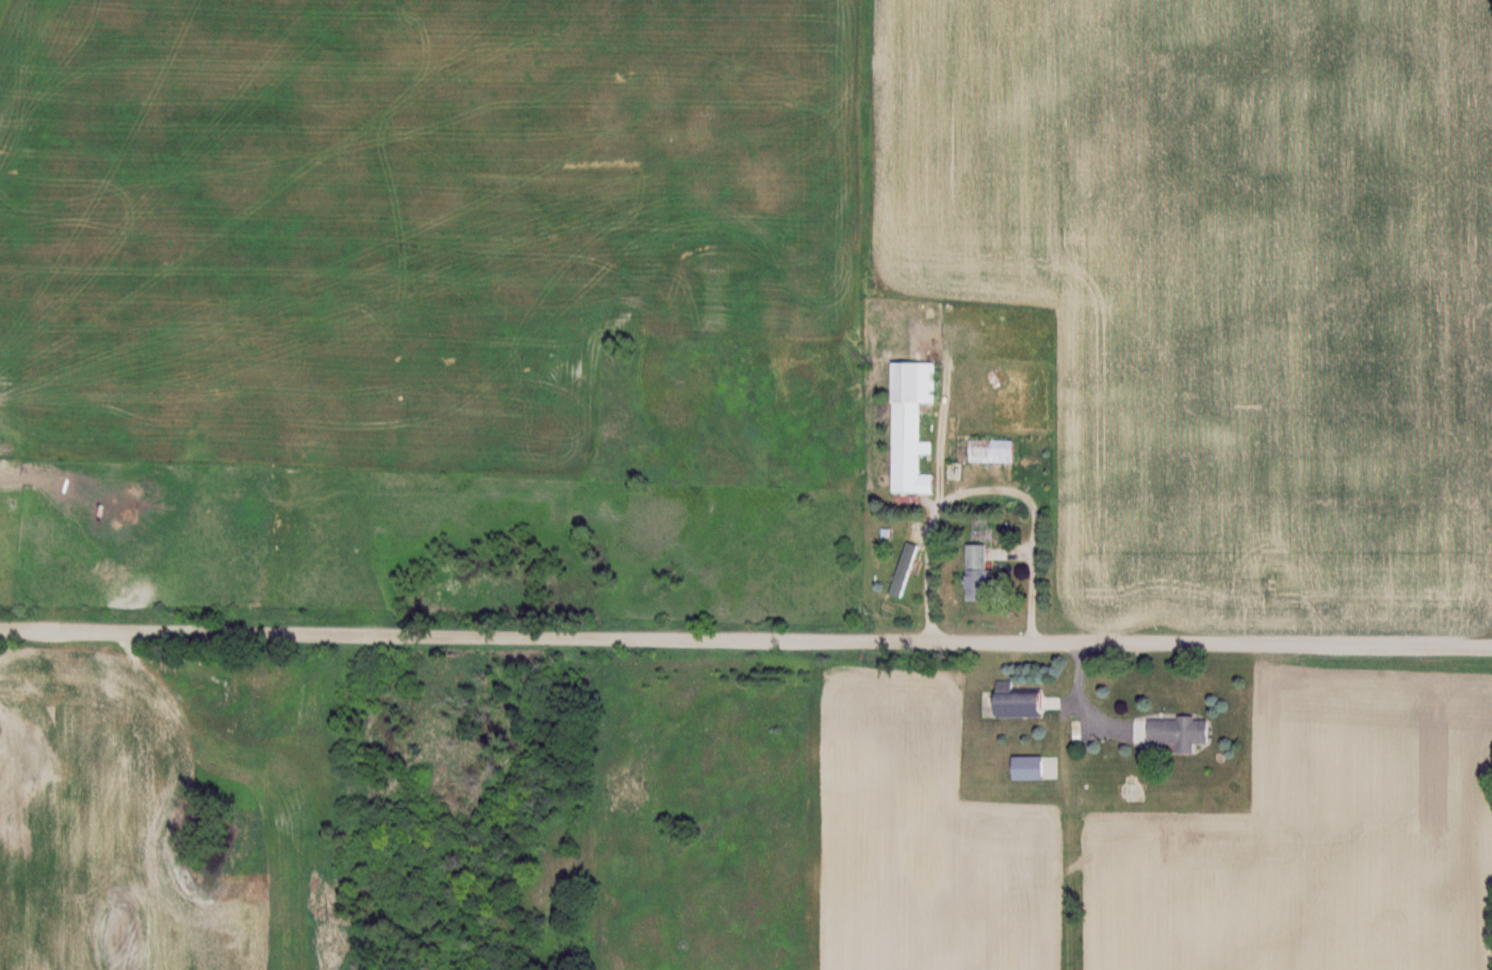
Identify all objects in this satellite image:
building: (913, 426)
building: (993, 451)
road: (983, 488)
building: (984, 530)
building: (903, 569)
building: (981, 571)
road: (746, 633)
building: (1022, 702)
road: (1078, 704)
building: (1184, 733)
building: (1030, 768)

